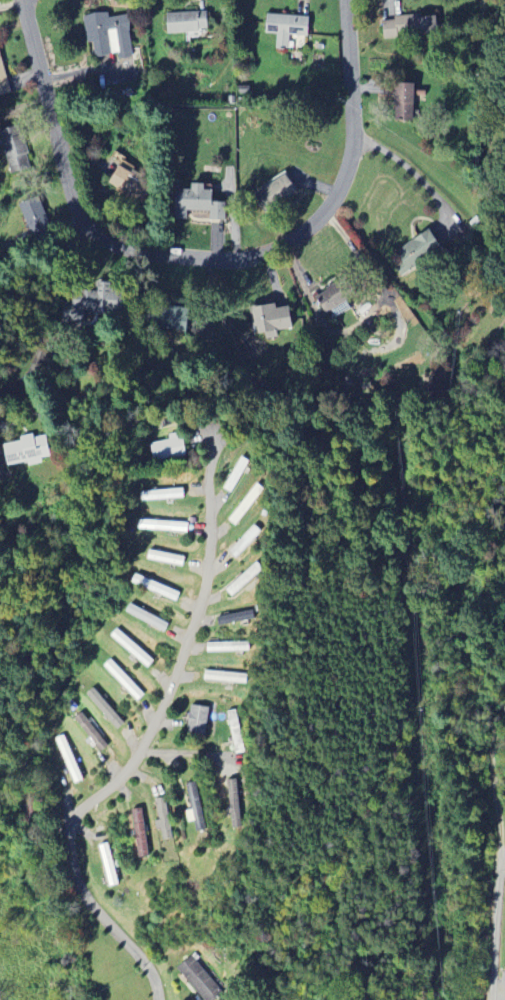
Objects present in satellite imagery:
building: (187, 21)
building: (410, 26)
building: (287, 27)
building: (110, 34)
building: (3, 77)
building: (404, 98)
building: (15, 149)
road: (412, 172)
building: (129, 180)
building: (276, 193)
building: (198, 203)
building: (35, 215)
building: (417, 252)
road: (202, 258)
building: (333, 298)
building: (84, 305)
road: (48, 308)
building: (169, 316)
building: (272, 320)
building: (169, 447)
building: (27, 451)
building: (237, 474)
building: (162, 494)
building: (163, 526)
building: (245, 541)
building: (166, 558)
building: (156, 587)
building: (229, 618)
building: (131, 646)
building: (228, 646)
building: (225, 676)
building: (124, 679)
building: (105, 708)
road: (504, 708)
building: (198, 720)
building: (92, 732)
road: (182, 753)
road: (125, 771)
building: (236, 804)
building: (196, 807)
building: (163, 818)
building: (140, 832)
road: (500, 851)
road: (502, 851)
building: (108, 864)
building: (199, 979)
road: (503, 999)

